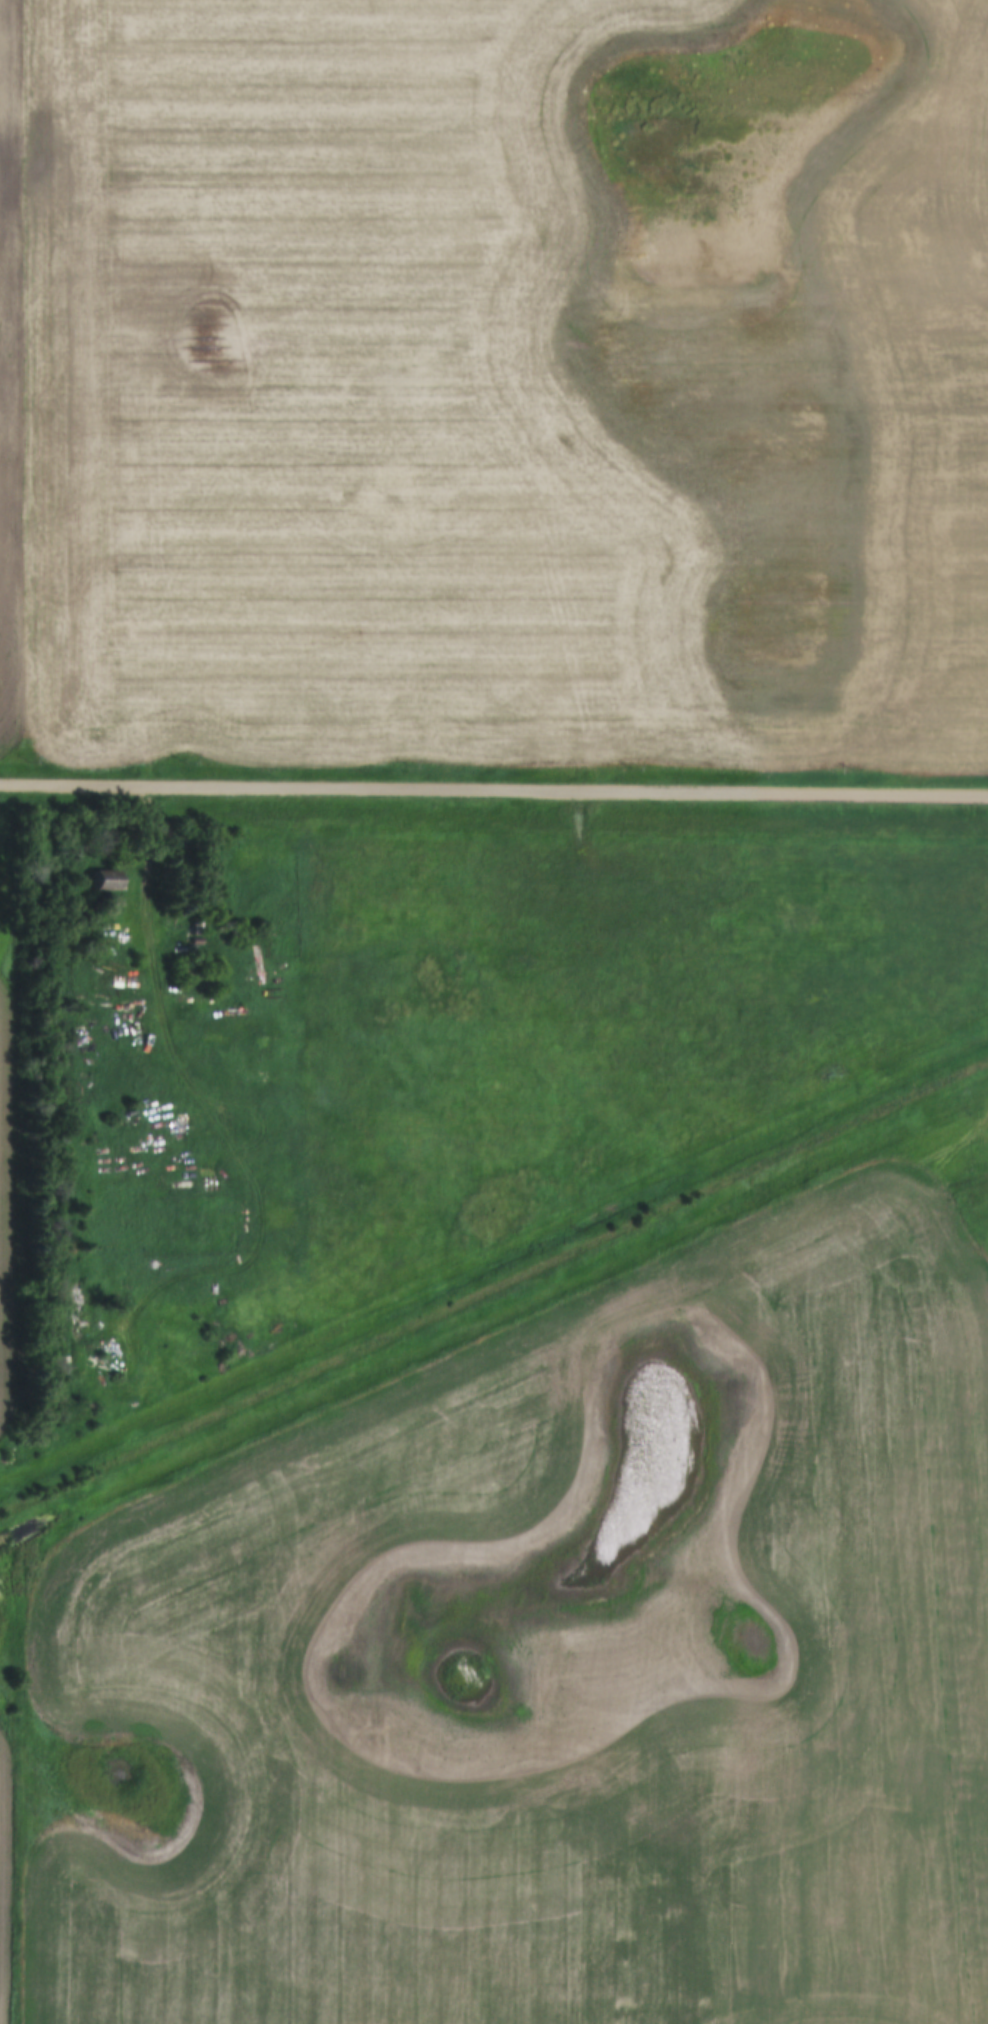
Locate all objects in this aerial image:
road: (494, 791)
building: (107, 881)
building: (196, 929)
building: (189, 966)
building: (78, 1016)

